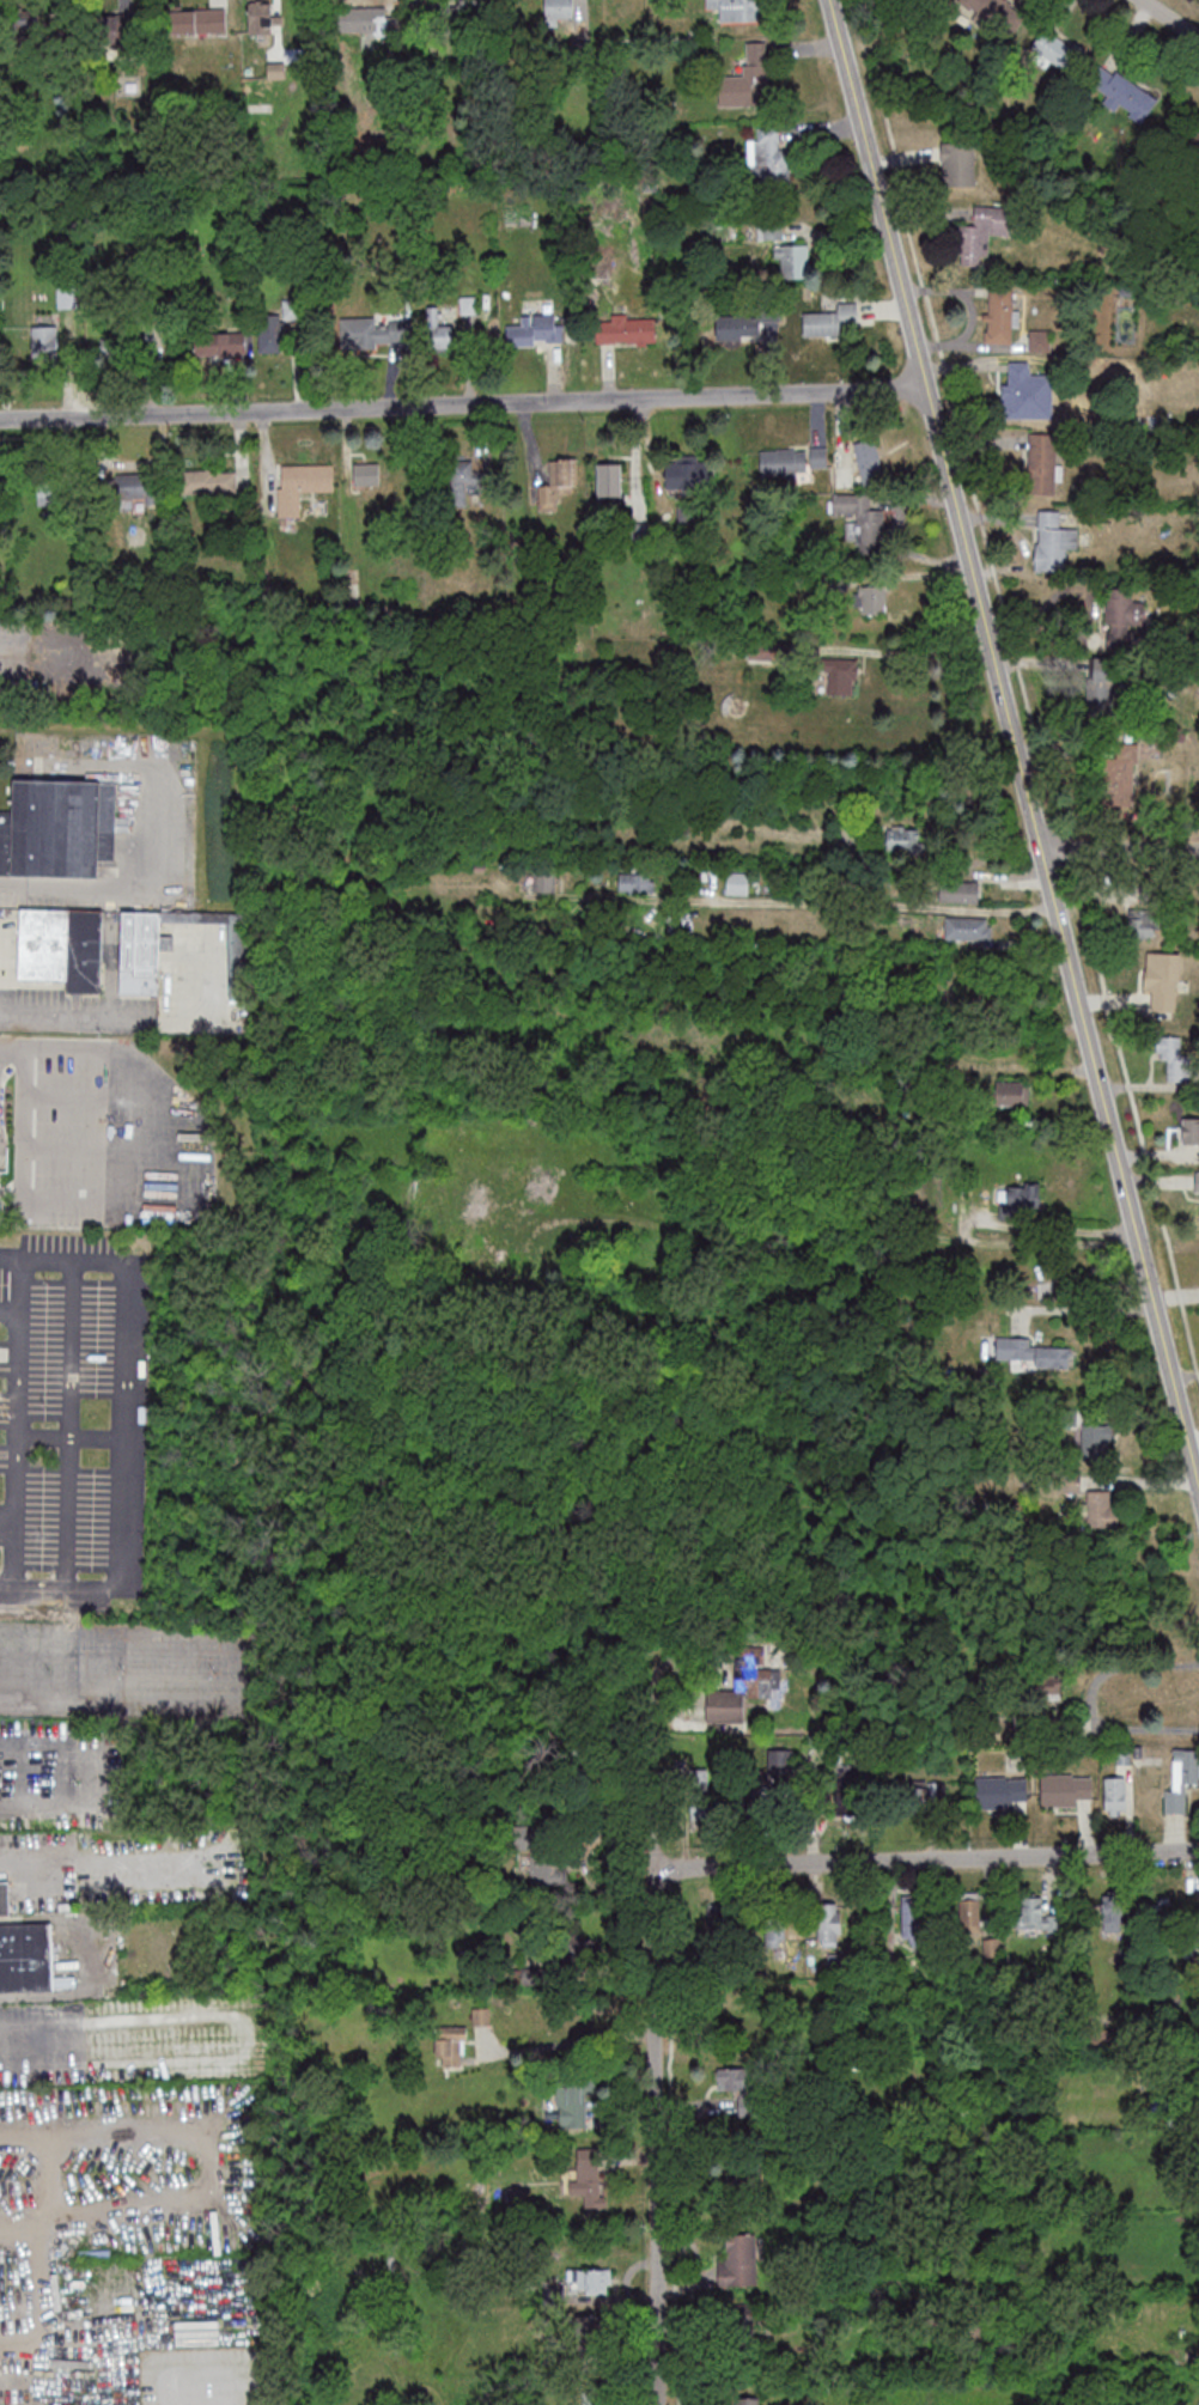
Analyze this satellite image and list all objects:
building: (559, 10)
building: (736, 10)
building: (994, 12)
building: (261, 17)
road: (1173, 17)
building: (196, 19)
building: (360, 19)
building: (456, 19)
building: (31, 24)
building: (116, 30)
building: (1054, 48)
building: (754, 73)
building: (1124, 91)
building: (371, 145)
building: (1193, 145)
building: (769, 158)
building: (958, 164)
building: (769, 229)
building: (982, 232)
building: (791, 260)
building: (1000, 312)
building: (830, 321)
building: (745, 323)
building: (536, 329)
building: (620, 329)
building: (438, 331)
building: (370, 334)
building: (273, 337)
building: (1039, 340)
building: (44, 341)
building: (220, 343)
building: (1020, 389)
road: (464, 403)
building: (818, 457)
building: (783, 461)
building: (869, 463)
building: (1042, 463)
building: (366, 473)
building: (686, 474)
building: (844, 474)
building: (207, 481)
building: (609, 482)
building: (458, 483)
building: (302, 485)
building: (559, 486)
building: (133, 488)
building: (48, 492)
building: (860, 520)
building: (1053, 541)
building: (870, 598)
building: (1126, 613)
road: (915, 656)
building: (840, 675)
building: (1107, 681)
road: (1016, 741)
building: (1120, 774)
building: (60, 828)
building: (901, 836)
road: (1120, 842)
building: (544, 878)
building: (637, 882)
building: (737, 882)
road: (127, 889)
building: (958, 891)
road: (809, 905)
building: (1142, 923)
building: (968, 927)
building: (159, 943)
building: (62, 946)
building: (1163, 980)
road: (14, 1052)
building: (1173, 1055)
building: (1011, 1092)
building: (1189, 1132)
building: (1197, 1183)
road: (179, 1192)
building: (1018, 1200)
building: (495, 1213)
road: (1065, 1226)
building: (1036, 1290)
road: (22, 1291)
road: (1089, 1310)
building: (1034, 1352)
road: (122, 1413)
road: (67, 1421)
road: (68, 1435)
building: (1096, 1442)
road: (14, 1444)
building: (1101, 1509)
road: (6, 1530)
road: (5, 1583)
building: (743, 1691)
road: (1091, 1698)
building: (780, 1770)
building: (1182, 1779)
building: (1065, 1789)
building: (925, 1790)
building: (702, 1791)
building: (845, 1791)
building: (999, 1791)
building: (1115, 1795)
road: (925, 1859)
building: (548, 1867)
building: (4, 1895)
building: (969, 1911)
building: (1035, 1914)
building: (1115, 1914)
building: (911, 1918)
building: (829, 1930)
building: (774, 1932)
building: (716, 1935)
building: (576, 1943)
building: (24, 1955)
building: (481, 2015)
building: (736, 2025)
road: (570, 2040)
building: (450, 2045)
road: (656, 2071)
building: (742, 2087)
building: (576, 2102)
building: (590, 2179)
building: (741, 2181)
building: (516, 2196)
building: (738, 2261)
road: (59, 2276)
building: (589, 2279)
building: (595, 2327)
building: (741, 2327)
road: (37, 2383)
building: (595, 2399)
building: (745, 2400)

